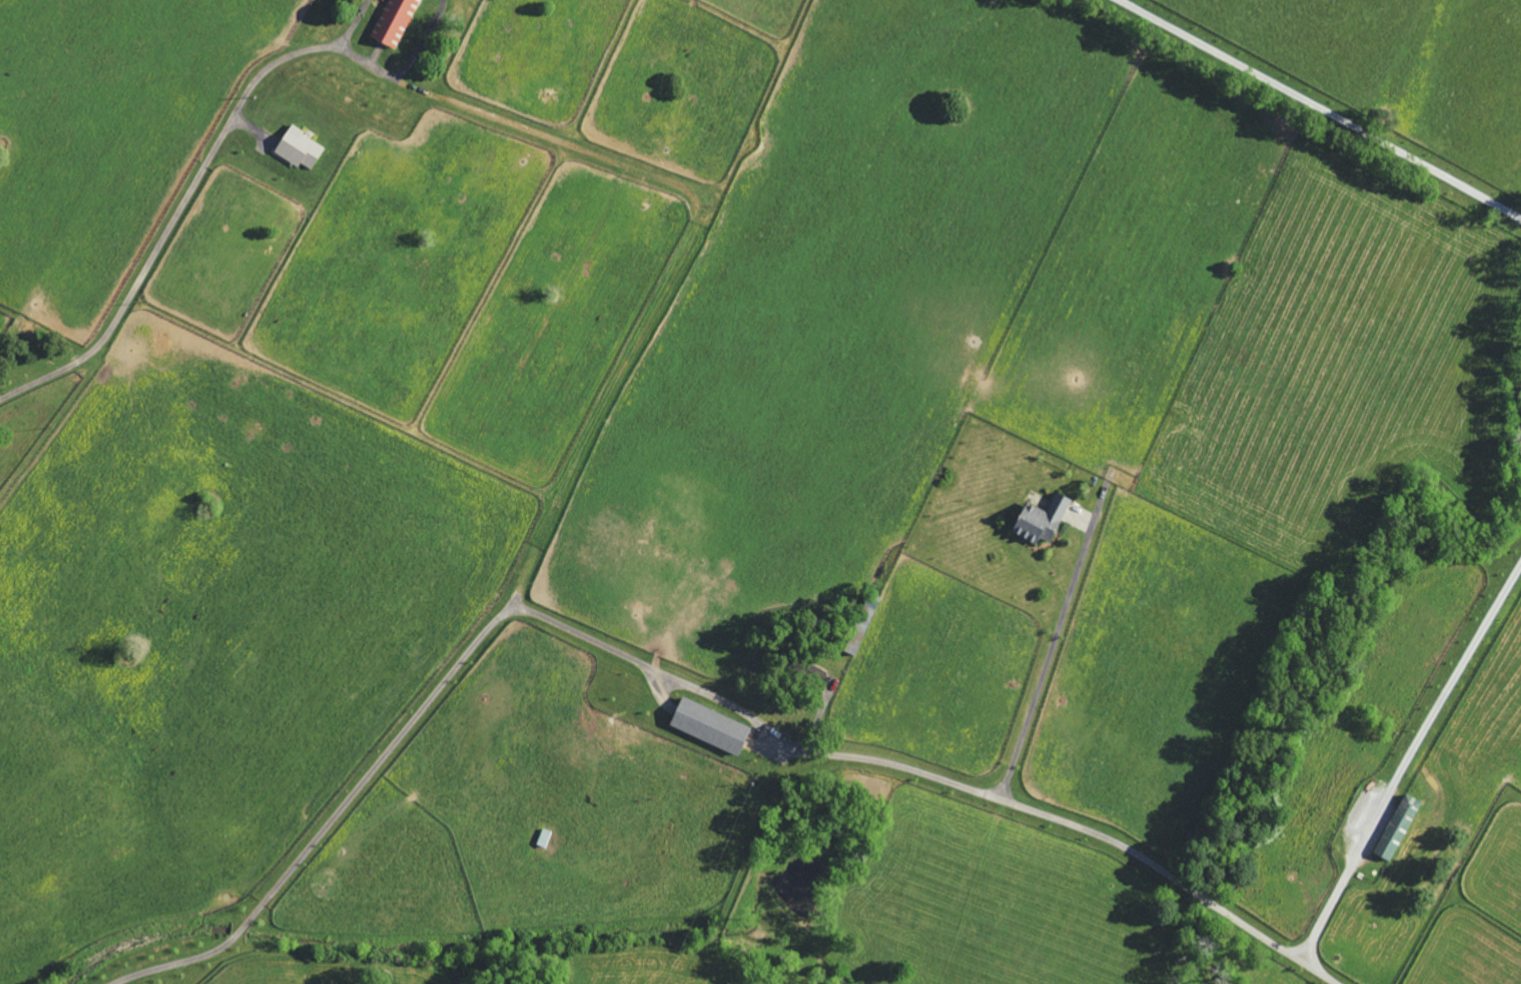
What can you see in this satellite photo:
building: (397, 21)
road: (1318, 108)
building: (303, 149)
road: (190, 200)
building: (1045, 521)
road: (1046, 661)
building: (714, 727)
road: (1409, 761)
road: (934, 776)
road: (332, 816)
building: (1401, 828)

